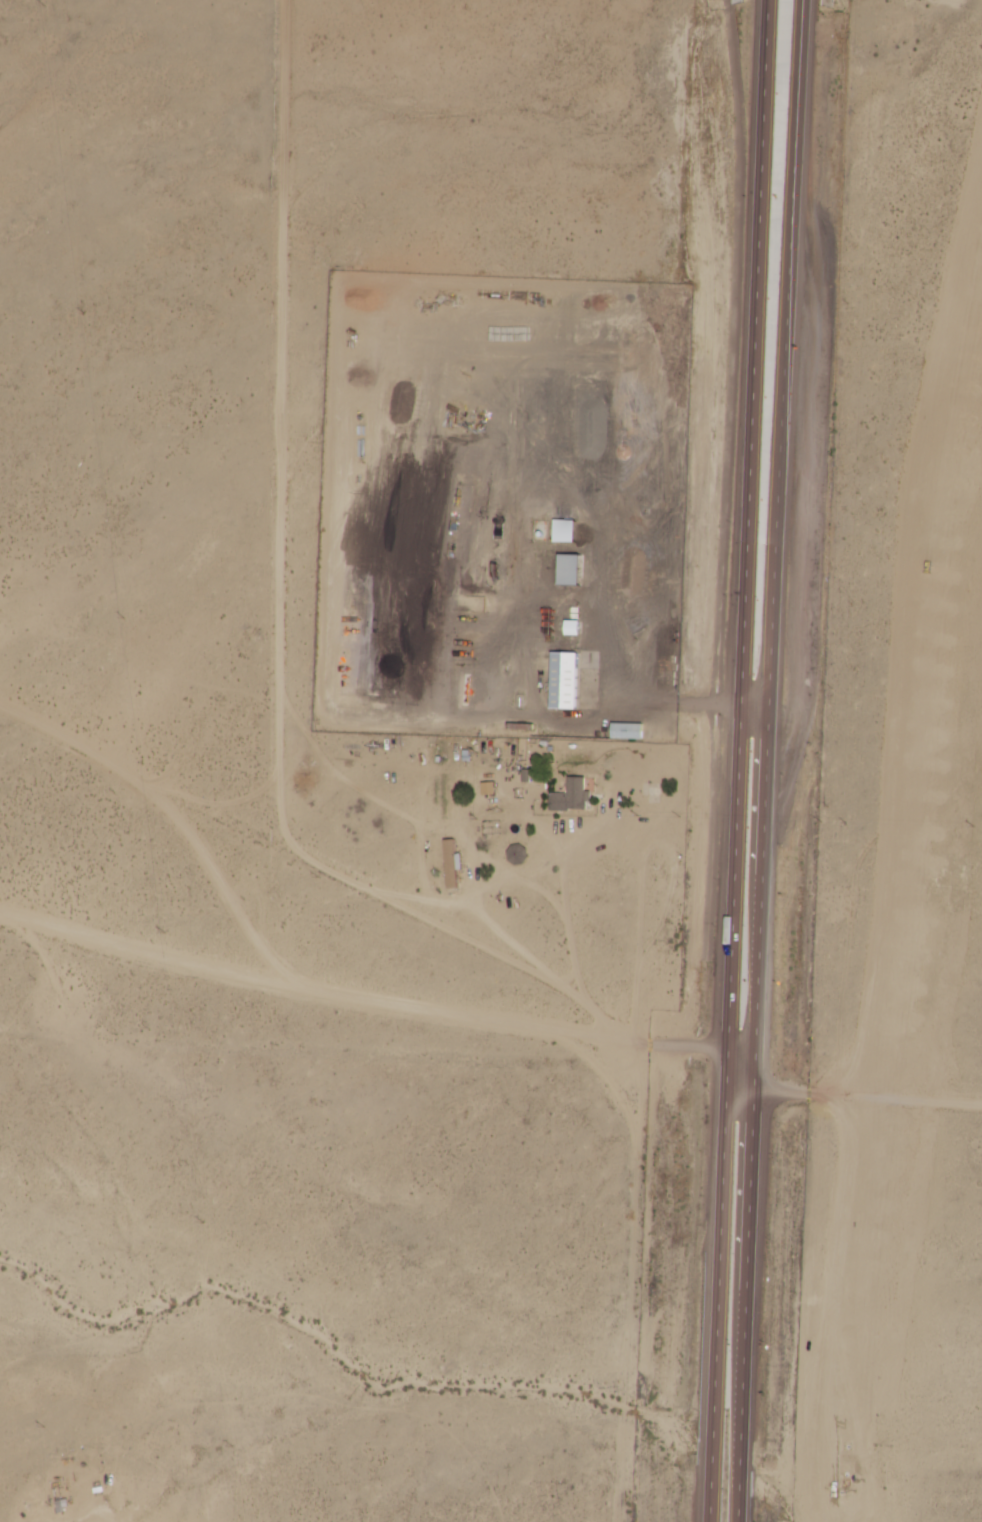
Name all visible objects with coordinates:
building: (563, 530)
building: (568, 568)
building: (563, 679)
road: (761, 716)
building: (626, 730)
road: (745, 760)
road: (774, 760)
building: (570, 795)
building: (450, 863)
road: (317, 864)
road: (364, 1003)
road: (748, 1054)
road: (747, 1097)
road: (871, 1102)

